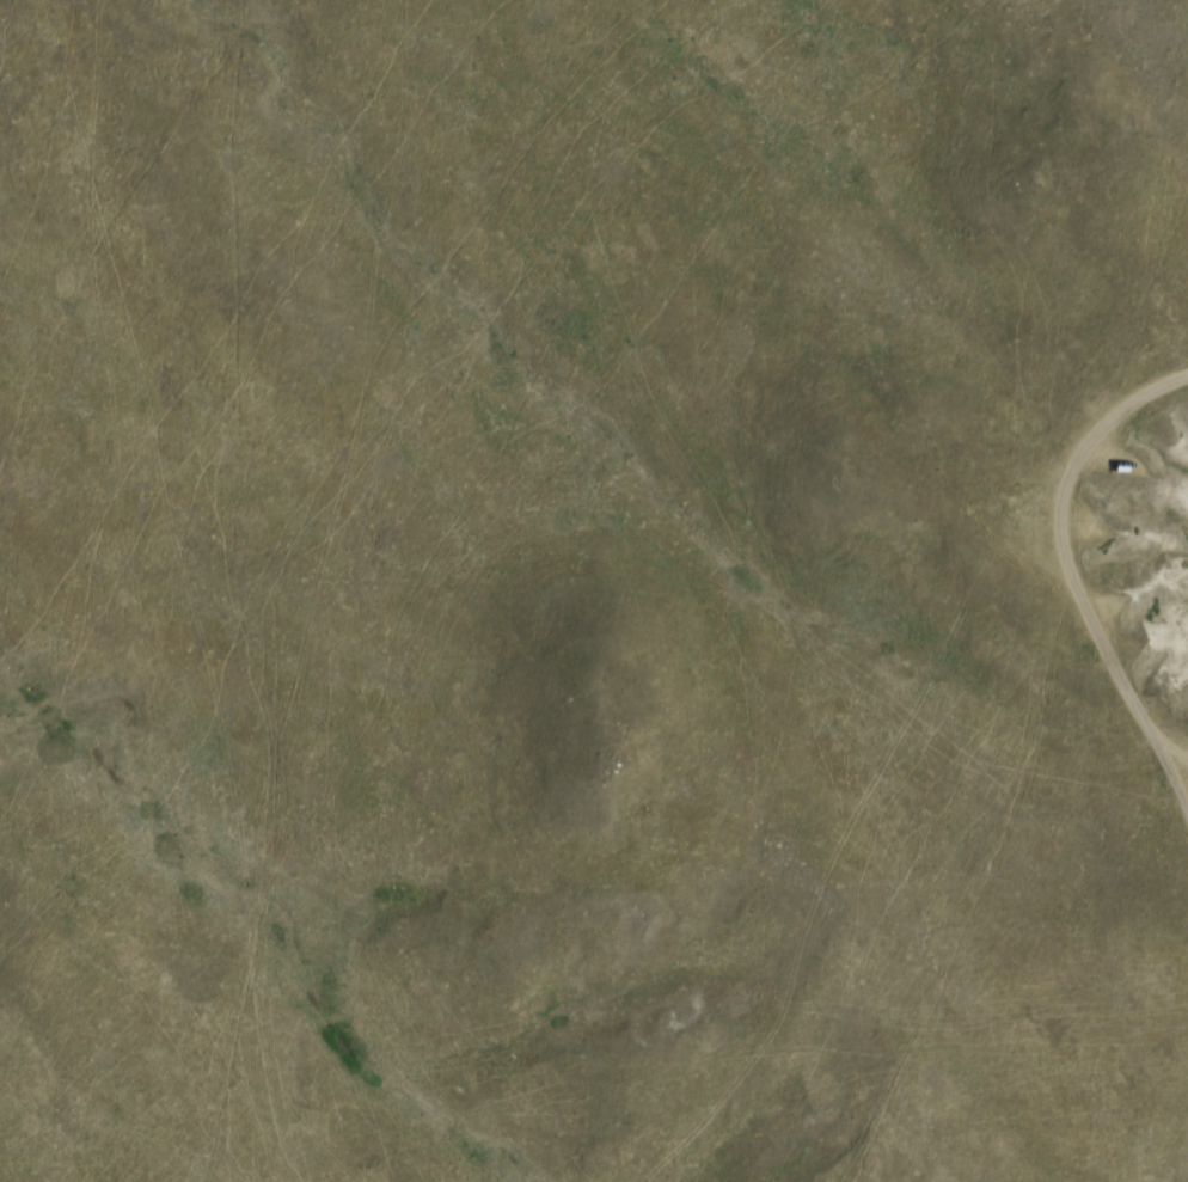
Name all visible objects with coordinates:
road: (1077, 571)

